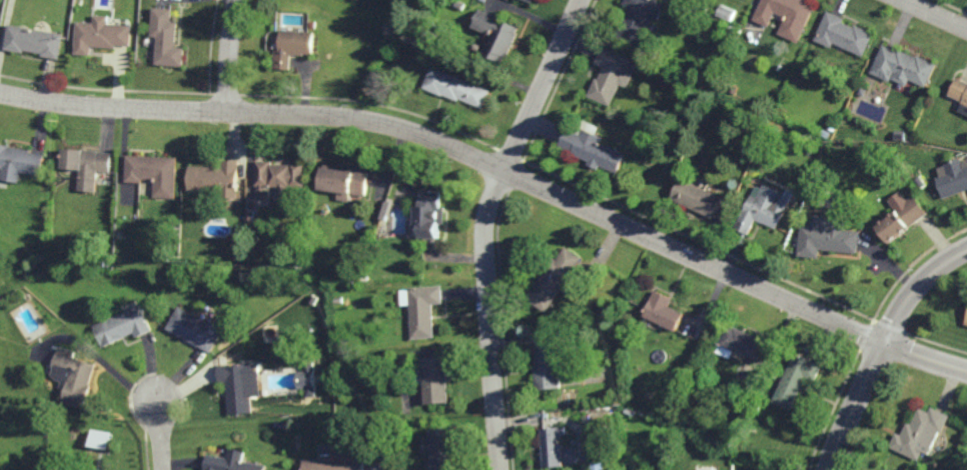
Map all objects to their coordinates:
building: (531, 1)
building: (462, 5)
building: (727, 13)
road: (936, 13)
building: (787, 16)
building: (640, 19)
building: (314, 25)
building: (726, 30)
building: (844, 34)
building: (101, 35)
building: (498, 35)
building: (167, 38)
building: (34, 41)
building: (276, 46)
building: (293, 48)
road: (229, 55)
building: (904, 67)
building: (613, 76)
building: (692, 85)
building: (456, 88)
building: (960, 91)
building: (864, 92)
building: (828, 134)
building: (901, 135)
building: (593, 149)
building: (811, 151)
building: (19, 161)
building: (88, 165)
road: (500, 165)
building: (154, 172)
building: (278, 175)
building: (215, 176)
building: (343, 179)
building: (919, 181)
building: (953, 181)
building: (698, 196)
building: (192, 202)
building: (763, 208)
building: (429, 212)
building: (901, 217)
road: (484, 225)
building: (826, 235)
building: (105, 262)
building: (237, 265)
building: (179, 275)
building: (555, 278)
building: (231, 292)
building: (338, 299)
building: (424, 309)
building: (666, 310)
building: (966, 320)
building: (123, 324)
building: (196, 327)
building: (626, 338)
building: (741, 342)
road: (880, 347)
building: (239, 359)
building: (548, 365)
building: (74, 375)
building: (436, 378)
building: (795, 378)
building: (308, 379)
building: (237, 386)
building: (707, 386)
building: (757, 406)
building: (280, 423)
building: (920, 432)
road: (160, 436)
building: (102, 438)
building: (554, 445)
building: (440, 448)
building: (335, 459)
building: (231, 462)
building: (597, 465)
building: (920, 466)
building: (586, 467)

